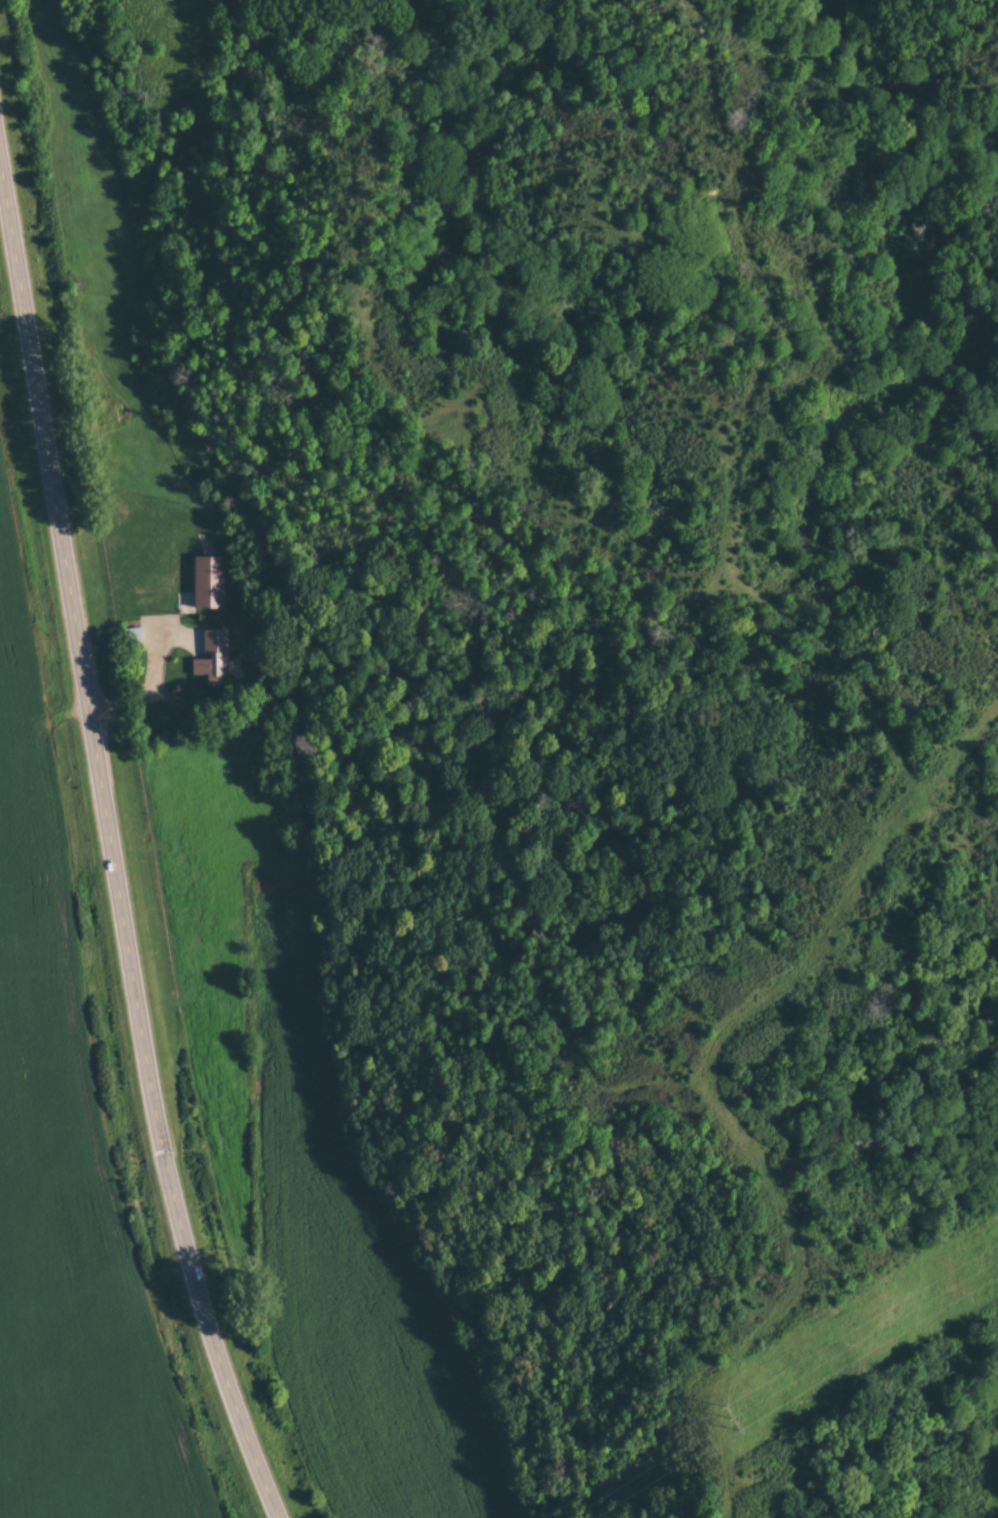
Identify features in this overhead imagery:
building: (133, 635)
building: (213, 653)
road: (114, 827)
power tower: (730, 1418)

